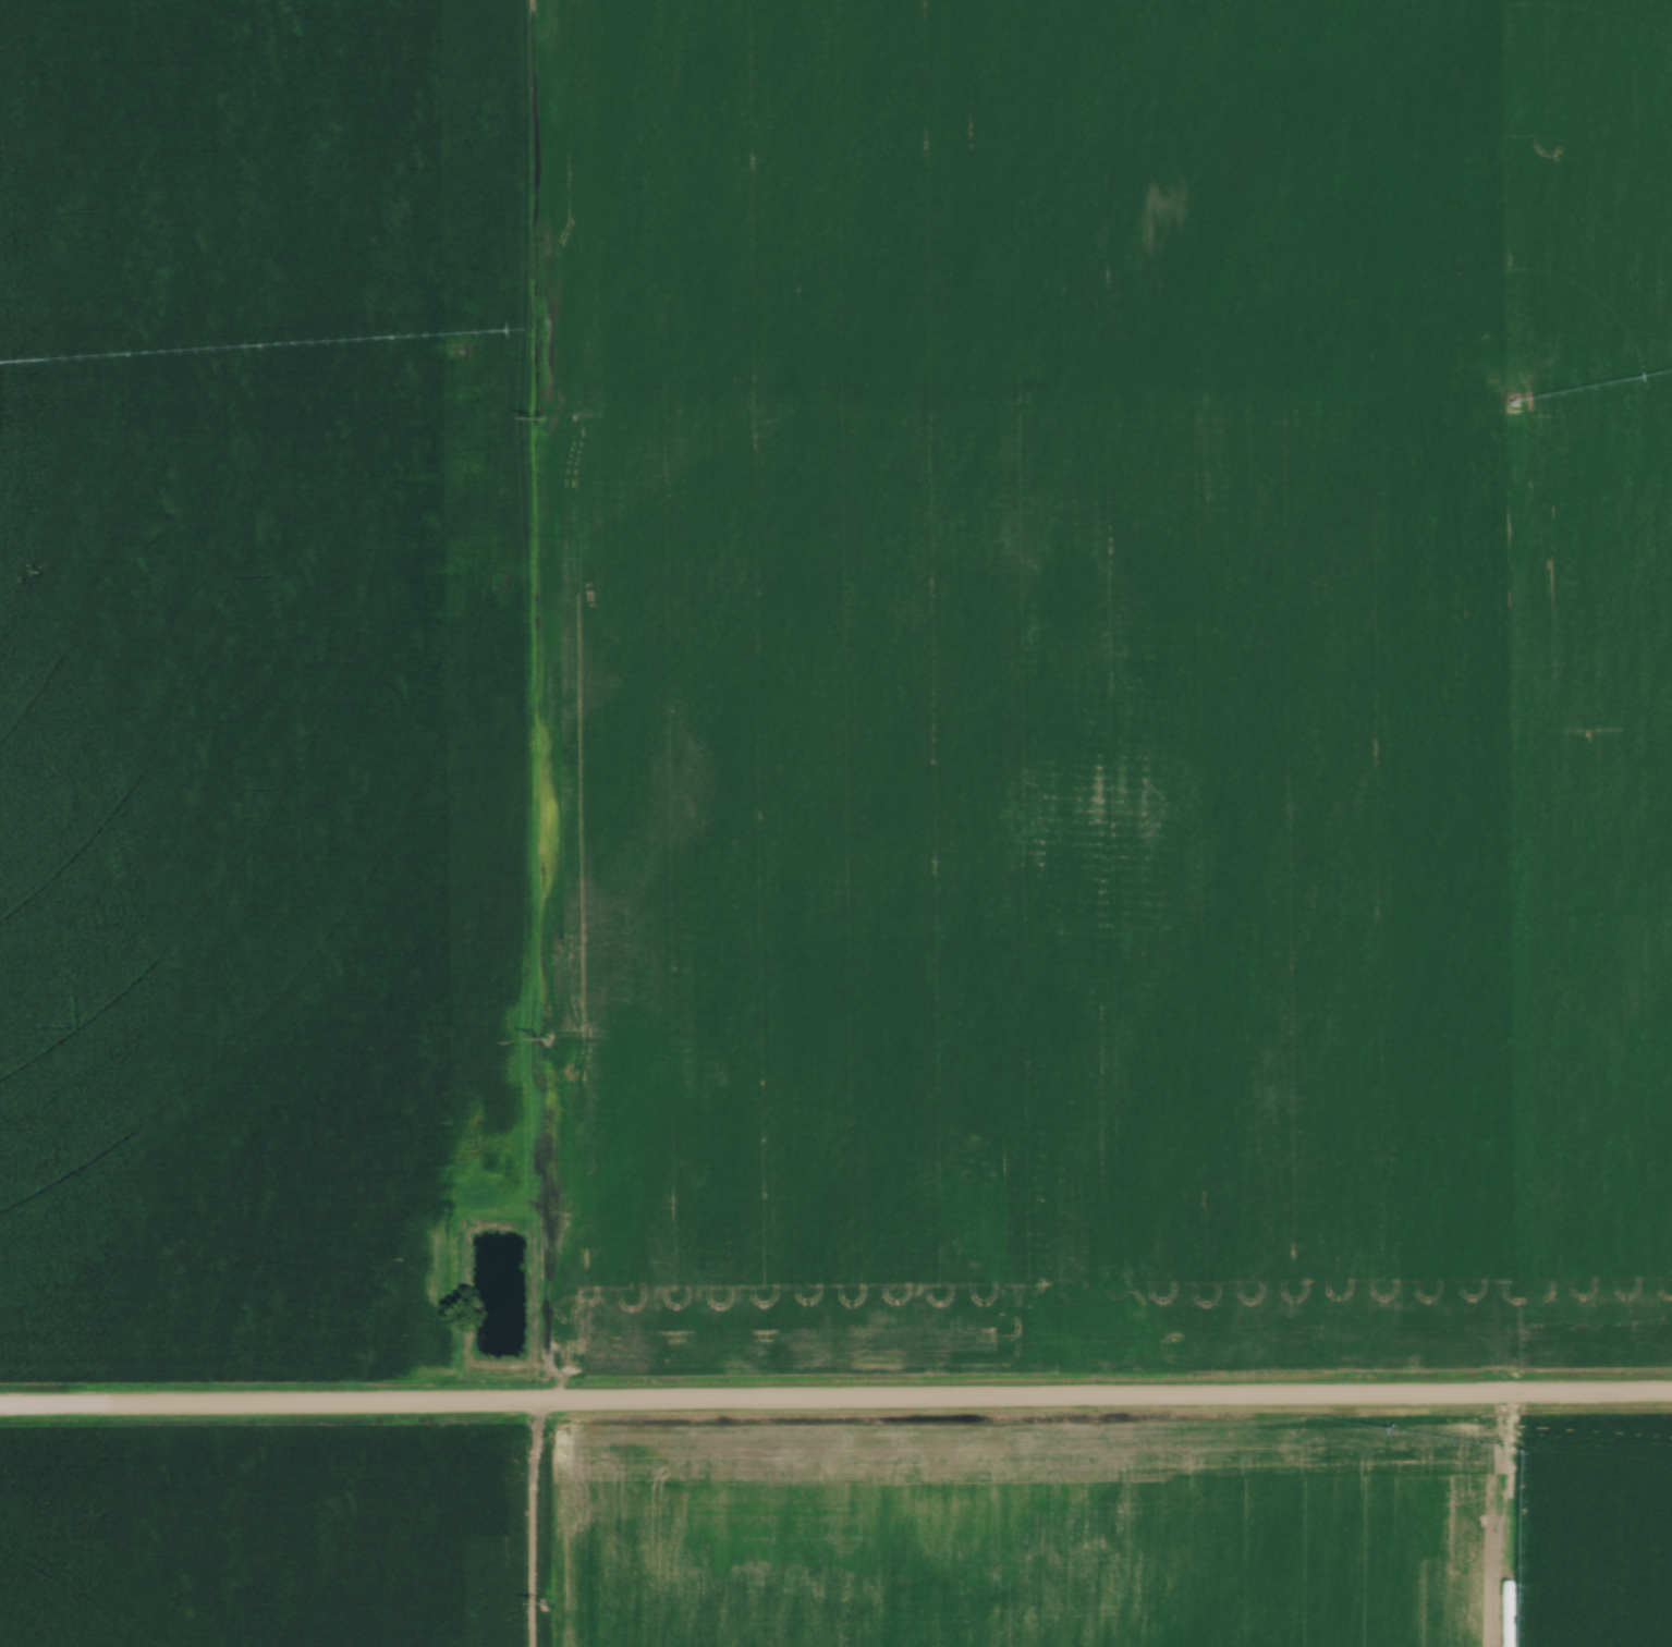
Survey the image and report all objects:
road: (835, 1406)

